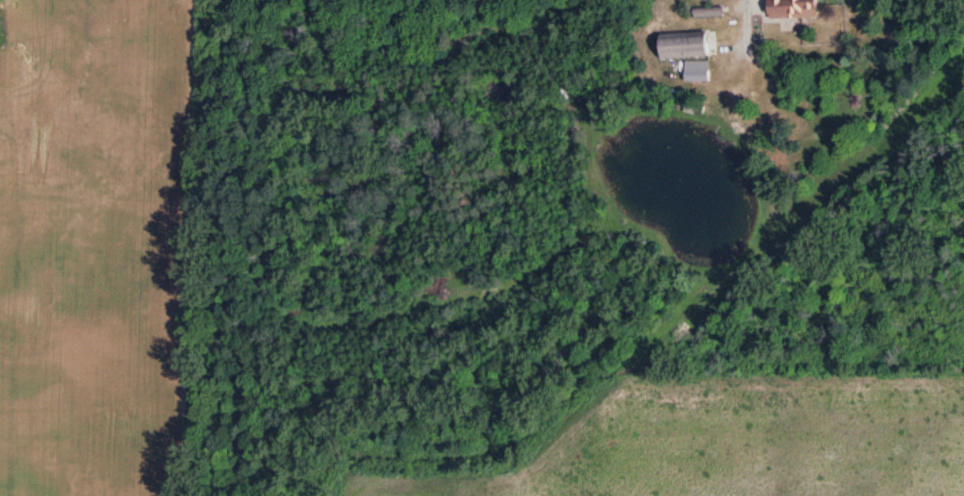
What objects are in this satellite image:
building: (792, 9)
road: (741, 18)
building: (683, 45)

